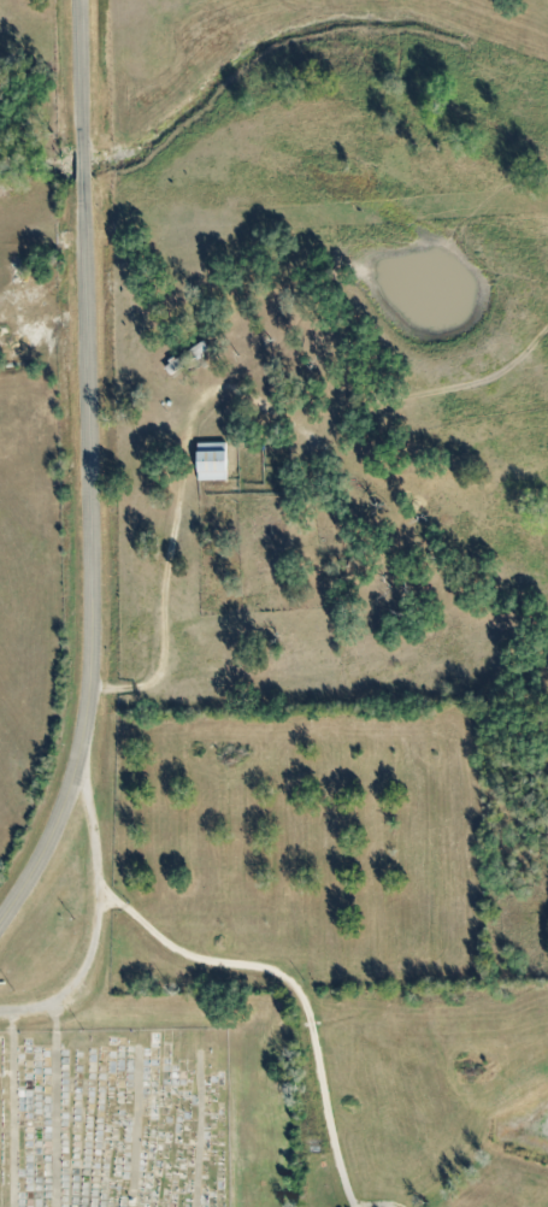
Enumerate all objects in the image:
road: (79, 75)
road: (82, 165)
building: (187, 358)
road: (381, 398)
building: (211, 461)
road: (165, 555)
road: (89, 559)
road: (241, 962)
road: (77, 978)
road: (55, 1103)
road: (10, 1109)
park: (113, 1118)
road: (134, 1125)
road: (198, 1127)

